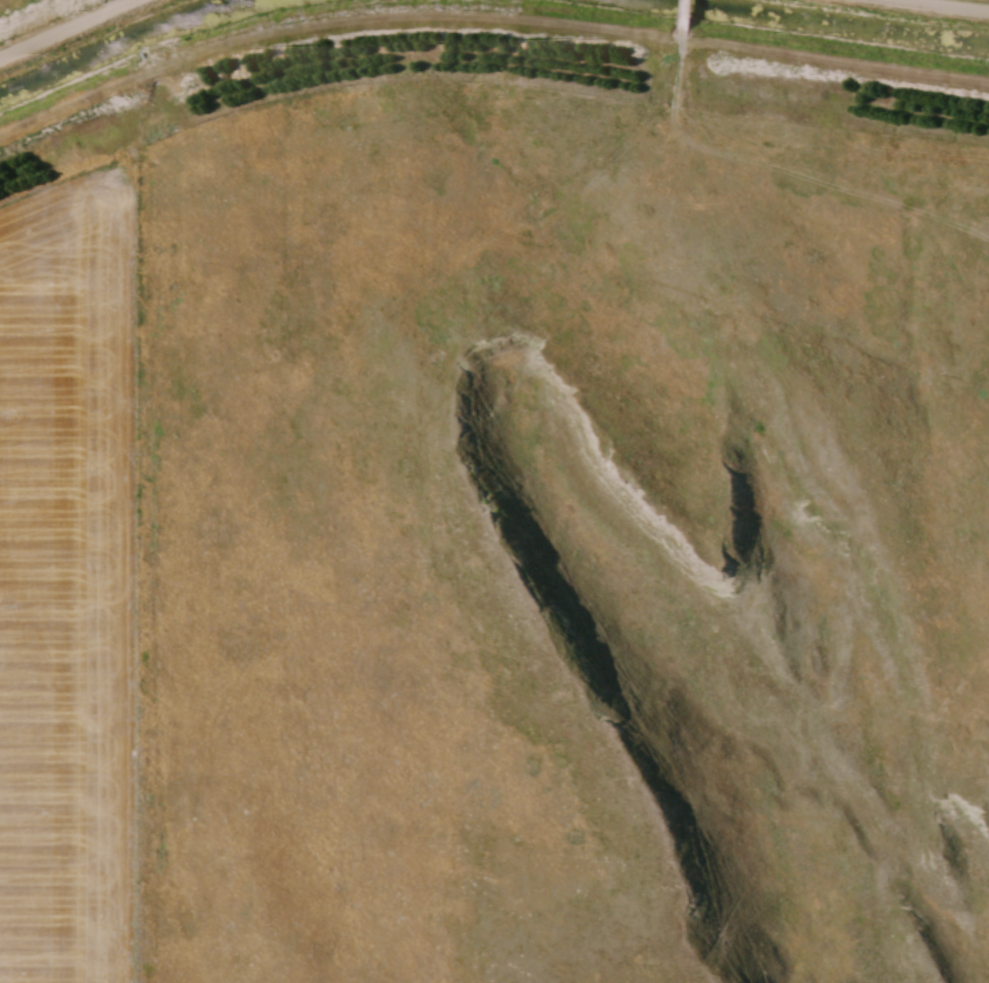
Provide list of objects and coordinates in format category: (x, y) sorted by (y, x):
road: (955, 4)
road: (73, 30)

